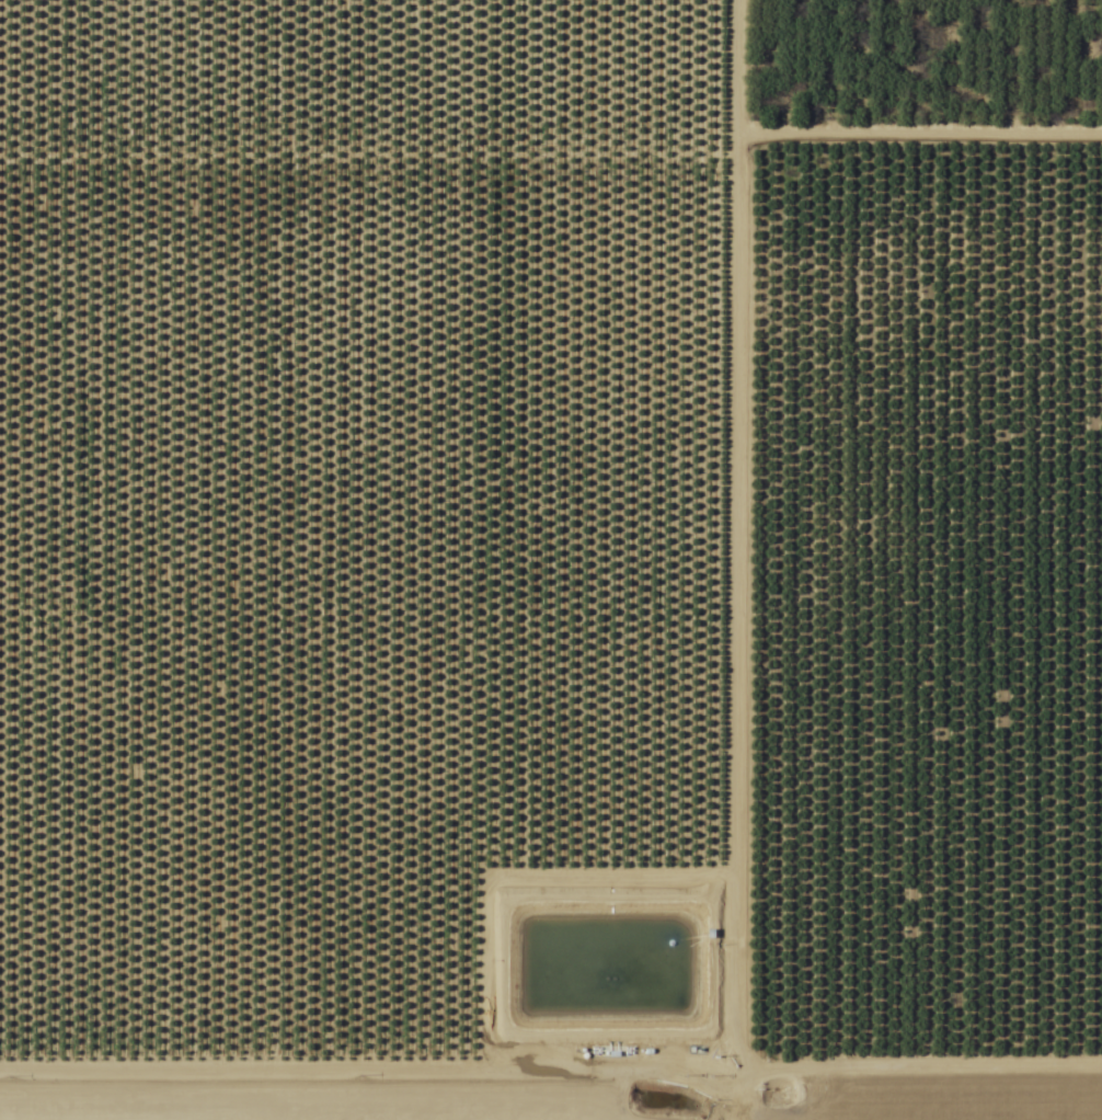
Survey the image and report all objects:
road: (727, 560)

